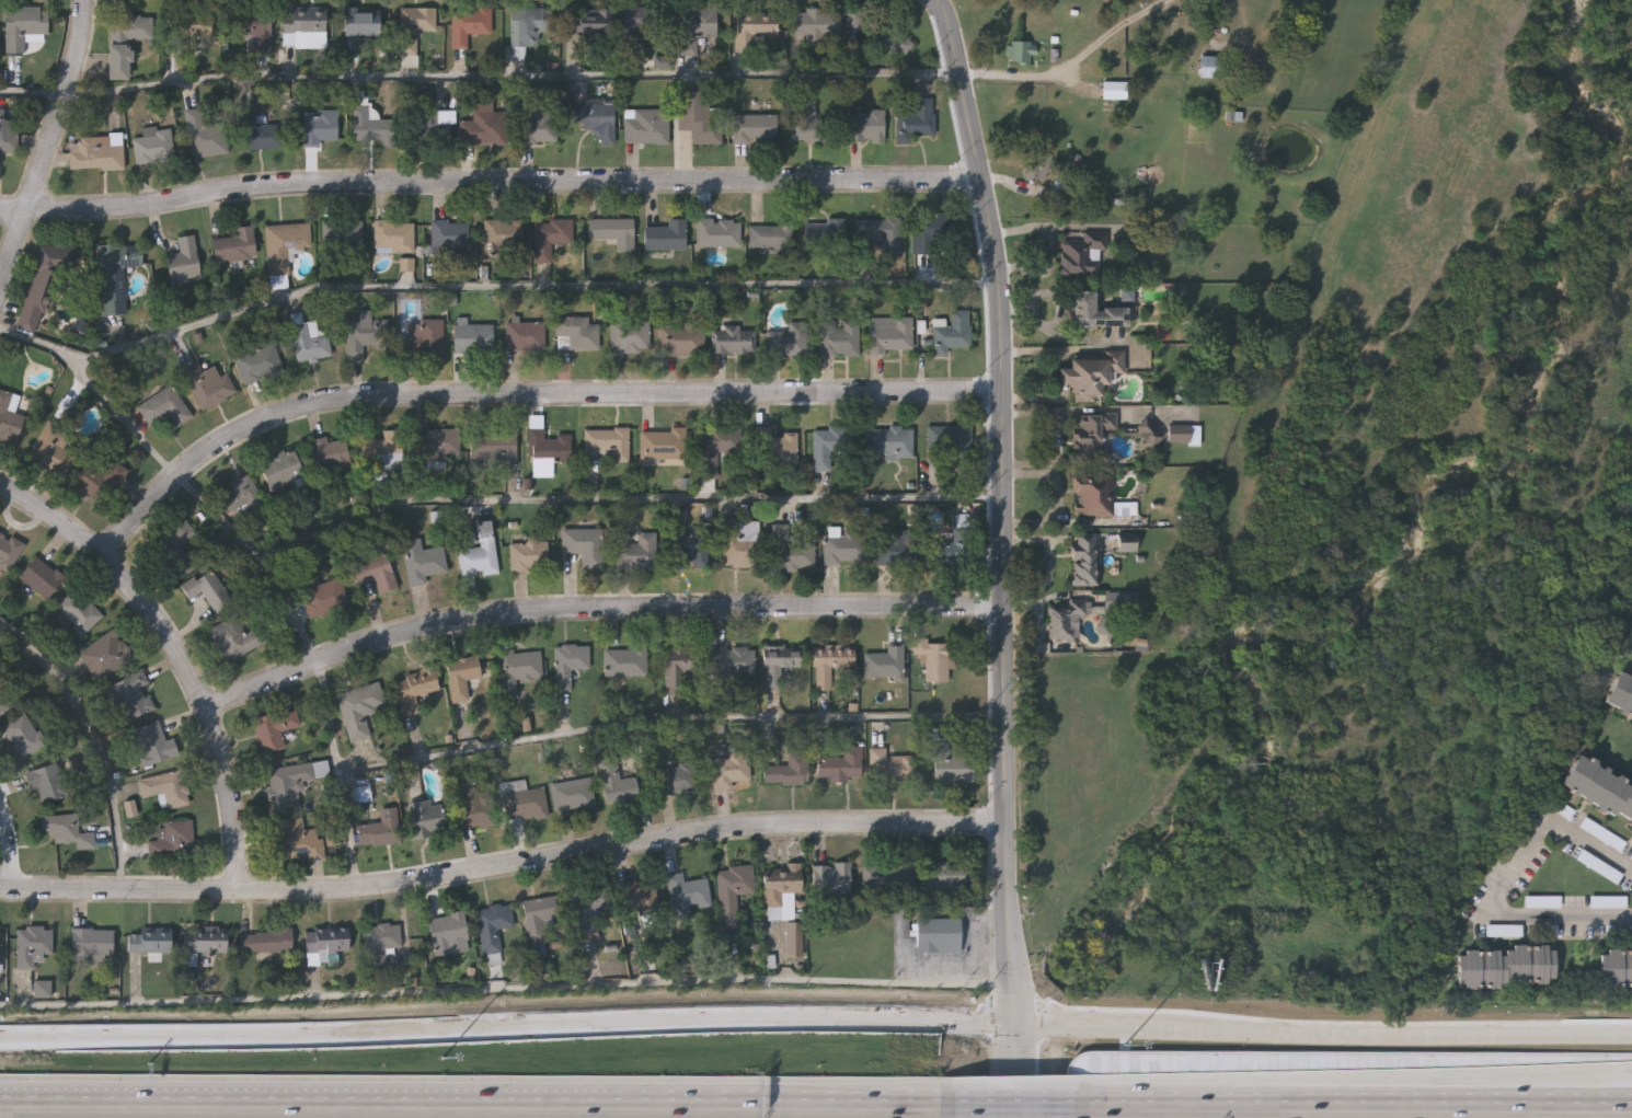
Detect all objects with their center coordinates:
building: (589, 22)
building: (361, 23)
building: (641, 24)
building: (817, 24)
building: (469, 25)
building: (529, 25)
building: (23, 26)
building: (301, 26)
building: (414, 27)
building: (696, 27)
building: (875, 27)
building: (189, 30)
building: (254, 31)
building: (752, 32)
building: (125, 42)
building: (1021, 53)
road: (1071, 67)
building: (1211, 68)
road: (480, 78)
building: (1114, 90)
road: (59, 103)
building: (698, 116)
building: (596, 119)
building: (805, 123)
building: (913, 123)
building: (371, 126)
building: (646, 126)
building: (320, 127)
building: (483, 127)
building: (866, 127)
building: (429, 128)
building: (537, 128)
building: (755, 129)
building: (257, 134)
building: (8, 135)
building: (205, 136)
building: (153, 147)
building: (95, 153)
building: (1037, 168)
road: (490, 178)
building: (612, 232)
building: (719, 232)
building: (880, 232)
building: (931, 233)
building: (825, 234)
building: (342, 237)
building: (392, 237)
building: (666, 237)
building: (770, 237)
building: (449, 238)
building: (504, 238)
building: (550, 238)
building: (285, 245)
building: (235, 246)
road: (18, 247)
building: (1084, 254)
building: (183, 261)
building: (114, 275)
building: (41, 286)
road: (531, 289)
building: (1096, 311)
building: (578, 332)
building: (365, 333)
building: (892, 334)
building: (630, 335)
building: (526, 336)
building: (951, 336)
building: (473, 337)
building: (309, 339)
building: (421, 339)
building: (681, 339)
building: (733, 339)
building: (788, 339)
building: (839, 339)
building: (258, 365)
building: (1090, 372)
building: (208, 384)
road: (97, 389)
road: (522, 393)
building: (164, 407)
building: (9, 416)
building: (1092, 433)
building: (951, 439)
building: (888, 441)
building: (608, 442)
building: (663, 443)
building: (829, 445)
building: (438, 447)
building: (493, 448)
building: (713, 448)
building: (782, 448)
building: (51, 449)
building: (383, 452)
building: (547, 453)
building: (330, 454)
building: (281, 469)
building: (101, 481)
building: (242, 495)
road: (1056, 499)
building: (1094, 499)
road: (627, 504)
road: (1004, 508)
building: (740, 544)
building: (584, 545)
building: (689, 545)
building: (181, 546)
building: (844, 546)
building: (789, 550)
building: (898, 550)
building: (9, 551)
building: (951, 551)
building: (636, 552)
building: (479, 554)
building: (528, 554)
building: (1084, 558)
road: (258, 560)
road: (1049, 561)
building: (422, 562)
building: (373, 573)
building: (42, 578)
building: (207, 589)
building: (322, 595)
road: (596, 607)
building: (78, 612)
building: (1065, 619)
road: (1039, 626)
building: (237, 638)
building: (104, 655)
road: (174, 657)
building: (934, 659)
building: (624, 662)
building: (731, 664)
building: (829, 664)
building: (885, 664)
building: (567, 665)
building: (780, 665)
building: (517, 670)
building: (677, 675)
building: (461, 677)
building: (413, 694)
building: (1620, 694)
building: (131, 695)
building: (4, 702)
building: (359, 710)
road: (617, 728)
building: (274, 729)
building: (23, 736)
road: (92, 740)
building: (154, 744)
building: (945, 759)
building: (841, 765)
building: (731, 767)
building: (889, 767)
building: (788, 771)
building: (678, 780)
building: (48, 783)
building: (616, 783)
building: (291, 784)
building: (1600, 787)
building: (166, 788)
building: (572, 795)
building: (528, 805)
building: (476, 808)
building: (425, 818)
building: (375, 819)
road: (348, 827)
building: (66, 830)
building: (173, 840)
building: (296, 841)
road: (7, 851)
road: (503, 863)
building: (887, 874)
building: (950, 874)
building: (832, 878)
building: (781, 890)
building: (688, 891)
road: (1493, 891)
building: (733, 892)
building: (640, 898)
building: (588, 903)
building: (538, 918)
building: (493, 926)
building: (447, 932)
building: (939, 935)
building: (793, 940)
building: (326, 941)
building: (149, 942)
building: (265, 942)
building: (380, 942)
building: (205, 943)
building: (33, 946)
building: (92, 946)
building: (1506, 968)
building: (1616, 969)
road: (507, 992)
traffic signals: (1016, 1026)
road: (507, 1028)
road: (1324, 1030)
road: (1016, 1072)
road: (1354, 1088)
road: (476, 1102)
road: (1014, 1104)
road: (1353, 1106)

